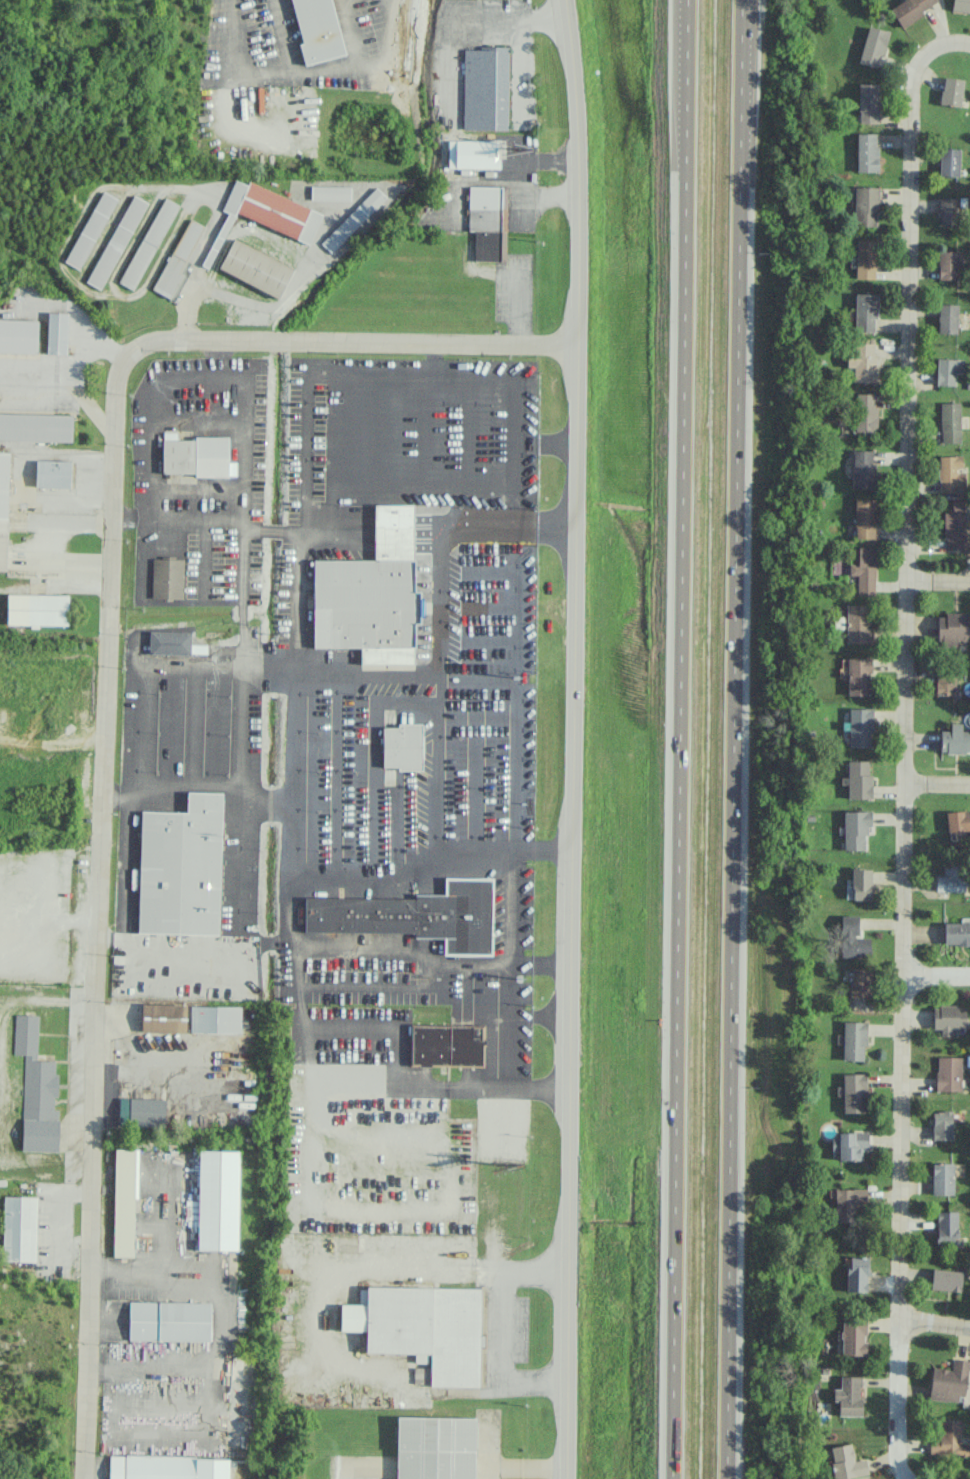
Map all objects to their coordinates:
building: (961, 5)
building: (910, 9)
road: (460, 18)
building: (317, 30)
building: (872, 47)
road: (336, 67)
road: (520, 68)
road: (264, 70)
road: (227, 89)
building: (485, 89)
building: (951, 91)
building: (867, 103)
building: (866, 152)
building: (949, 162)
road: (522, 179)
building: (330, 193)
building: (865, 206)
building: (948, 211)
building: (267, 212)
building: (353, 220)
building: (488, 222)
building: (90, 230)
building: (116, 242)
building: (148, 243)
building: (865, 259)
building: (177, 261)
building: (947, 265)
building: (255, 268)
road: (516, 309)
building: (865, 312)
building: (947, 319)
building: (57, 333)
building: (18, 336)
building: (861, 361)
building: (947, 370)
building: (865, 412)
building: (950, 422)
building: (35, 427)
building: (196, 457)
building: (863, 469)
building: (53, 473)
building: (950, 474)
building: (3, 508)
building: (864, 518)
building: (954, 526)
building: (864, 570)
building: (167, 578)
road: (937, 582)
building: (371, 596)
building: (37, 610)
building: (857, 624)
building: (952, 629)
building: (169, 643)
building: (858, 676)
building: (944, 685)
road: (104, 689)
building: (860, 728)
road: (572, 739)
road: (678, 739)
road: (732, 739)
building: (955, 740)
road: (904, 742)
building: (402, 746)
building: (858, 779)
road: (937, 783)
building: (958, 822)
building: (855, 829)
building: (180, 868)
building: (951, 878)
building: (861, 884)
building: (415, 915)
building: (956, 933)
building: (853, 939)
road: (936, 975)
building: (859, 982)
building: (163, 1018)
building: (948, 1018)
building: (215, 1019)
building: (854, 1041)
building: (446, 1045)
building: (948, 1073)
building: (214, 1082)
building: (36, 1090)
building: (854, 1093)
building: (141, 1112)
building: (942, 1125)
building: (852, 1145)
building: (942, 1178)
building: (218, 1200)
building: (124, 1203)
building: (848, 1203)
building: (946, 1228)
building: (19, 1229)
building: (856, 1274)
building: (946, 1280)
building: (169, 1321)
road: (934, 1325)
road: (502, 1327)
building: (853, 1337)
building: (949, 1382)
building: (849, 1396)
building: (949, 1440)
building: (435, 1448)
building: (846, 1462)
building: (159, 1467)

